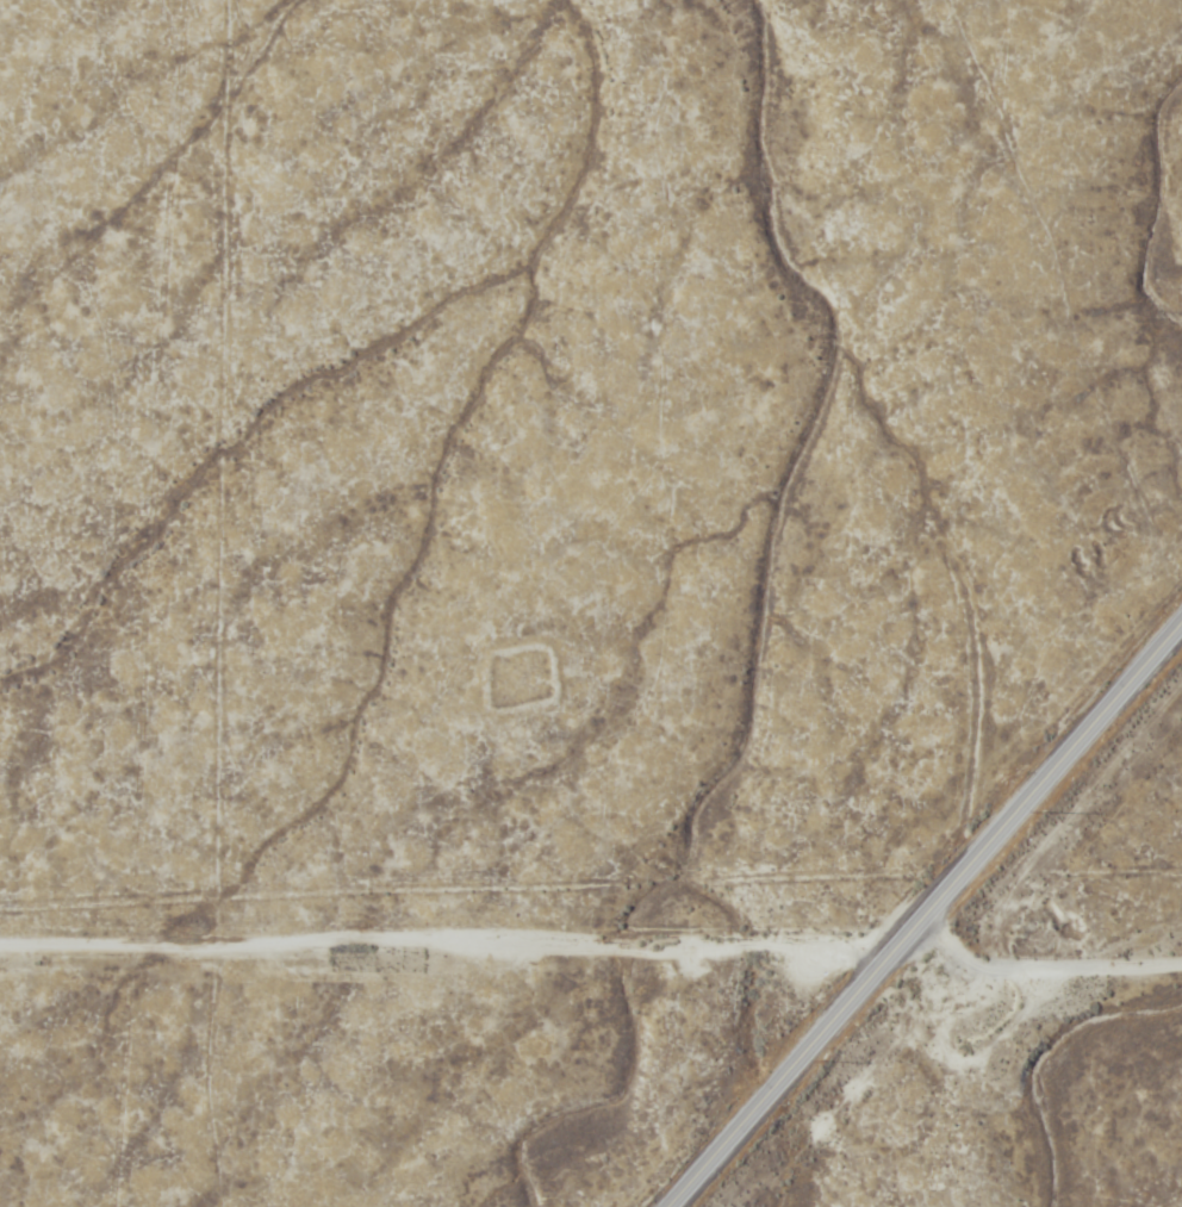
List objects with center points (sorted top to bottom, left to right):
road: (923, 913)
road: (1044, 952)

